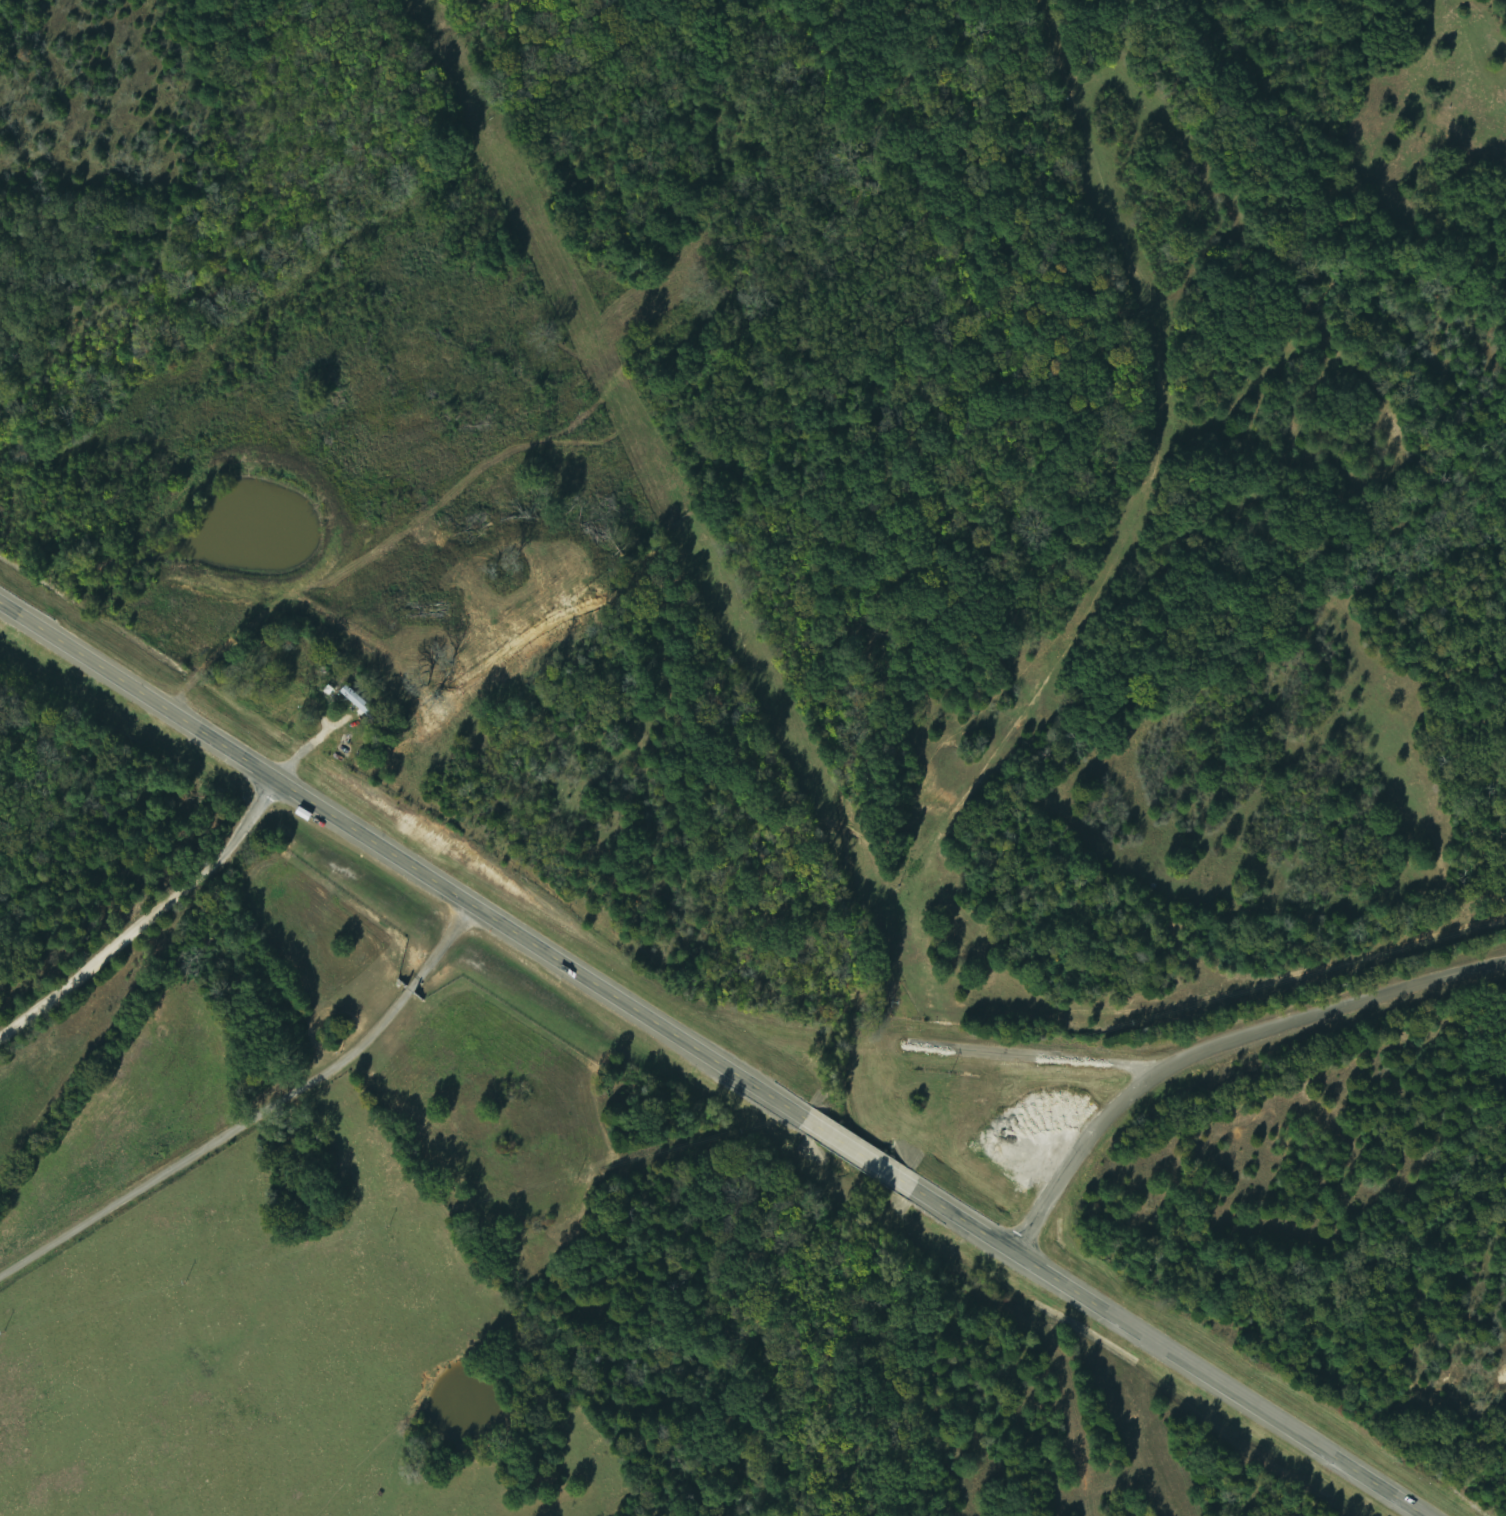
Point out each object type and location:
building: (361, 702)
road: (211, 875)
road: (63, 995)
road: (1219, 1048)
road: (714, 1060)
road: (258, 1119)

